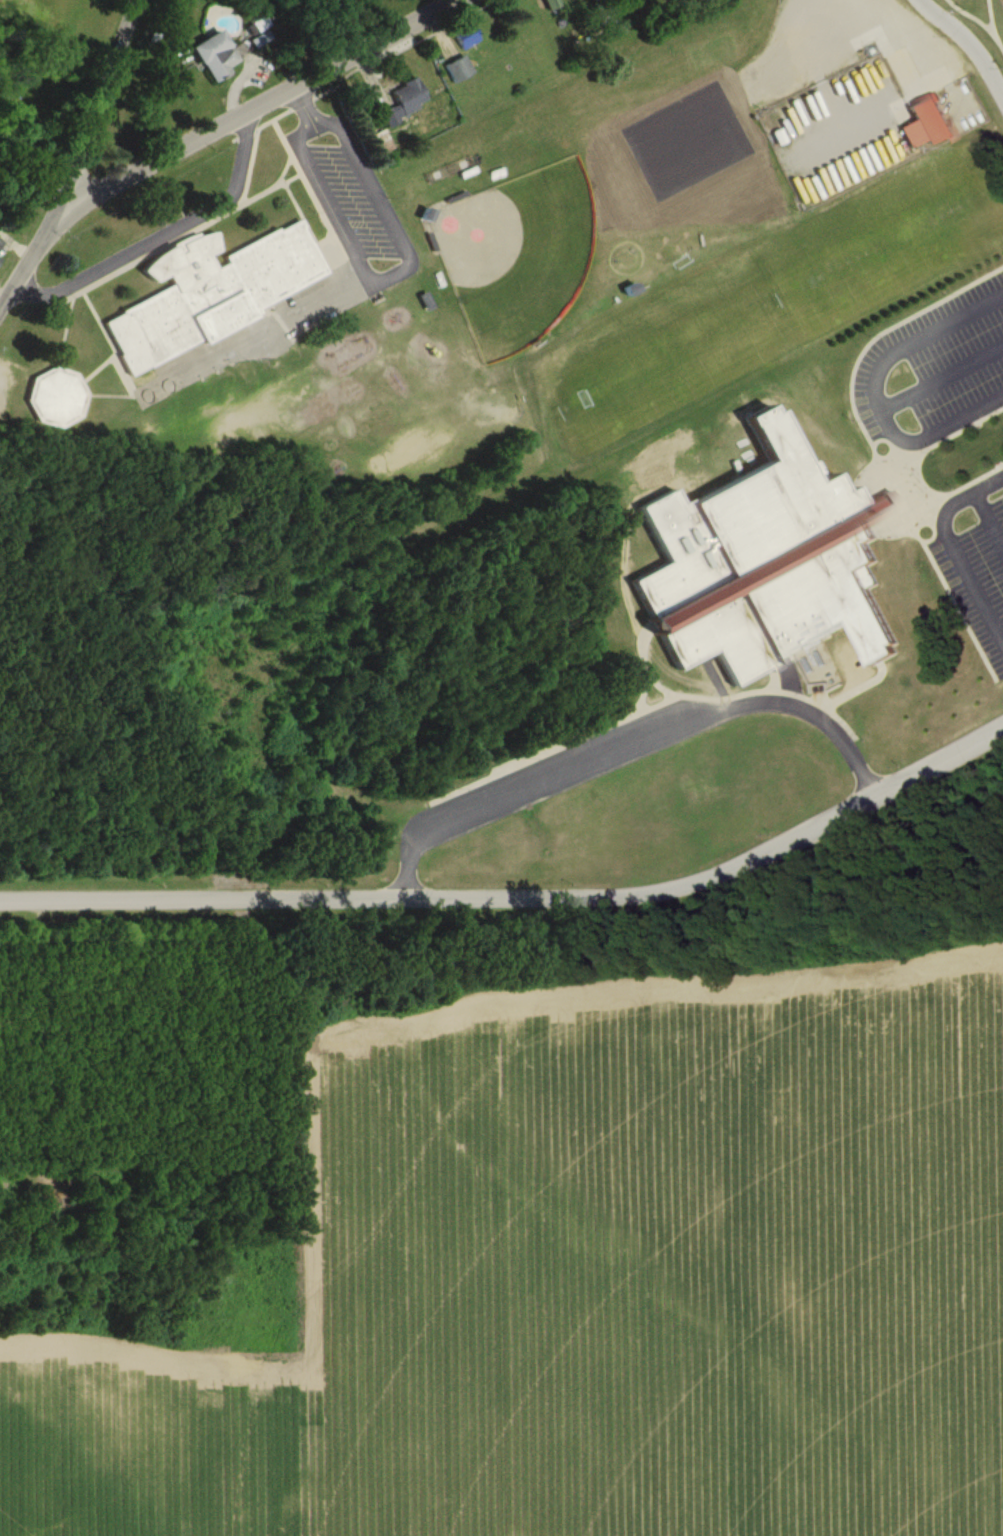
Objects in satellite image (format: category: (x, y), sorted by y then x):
road: (452, 1)
building: (553, 4)
building: (467, 37)
road: (969, 42)
building: (217, 57)
building: (459, 71)
road: (258, 103)
building: (405, 103)
building: (928, 124)
building: (383, 142)
road: (81, 159)
park: (755, 181)
park: (724, 183)
park: (693, 184)
road: (167, 236)
building: (1, 243)
park: (518, 252)
building: (0, 261)
road: (365, 283)
building: (208, 286)
road: (876, 388)
building: (57, 397)
road: (950, 546)
building: (770, 563)
road: (800, 704)
road: (512, 785)
road: (521, 894)
crop: (675, 1267)
crop: (128, 1446)

